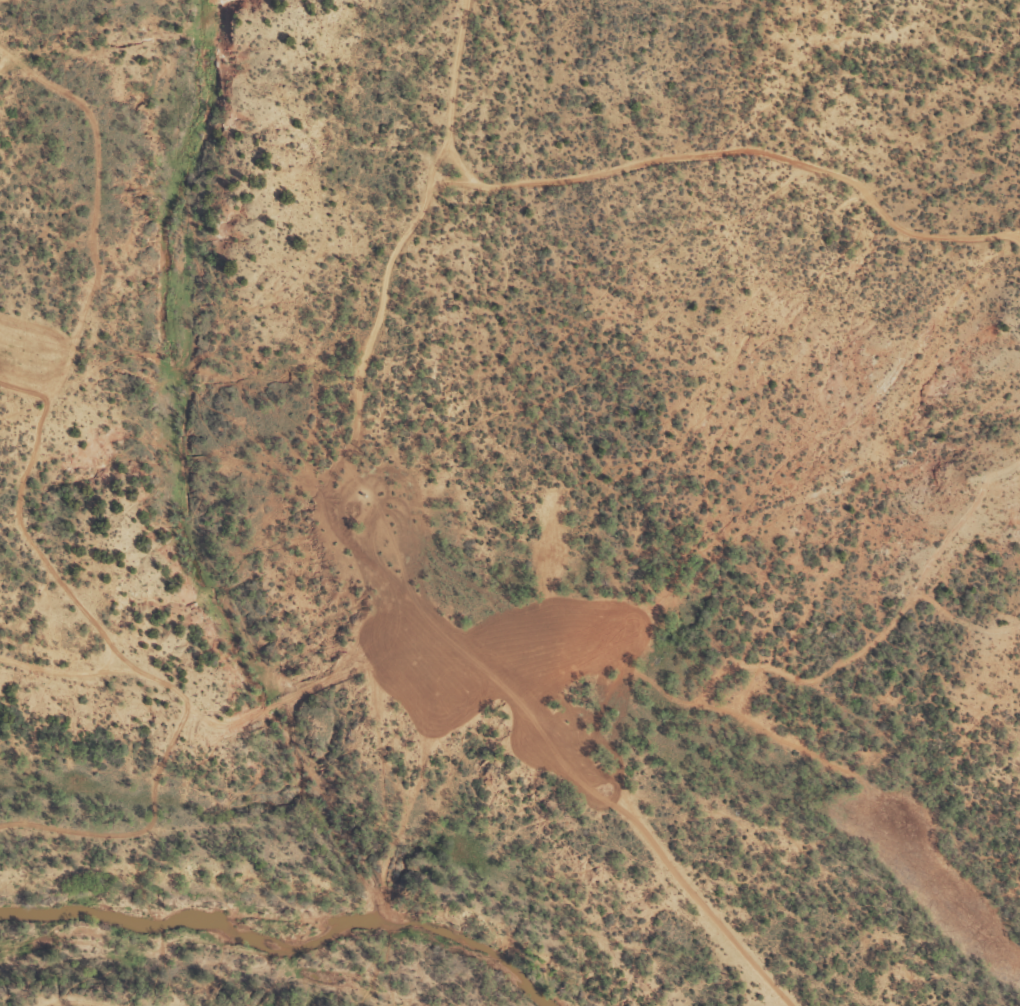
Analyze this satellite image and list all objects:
river: (293, 933)

